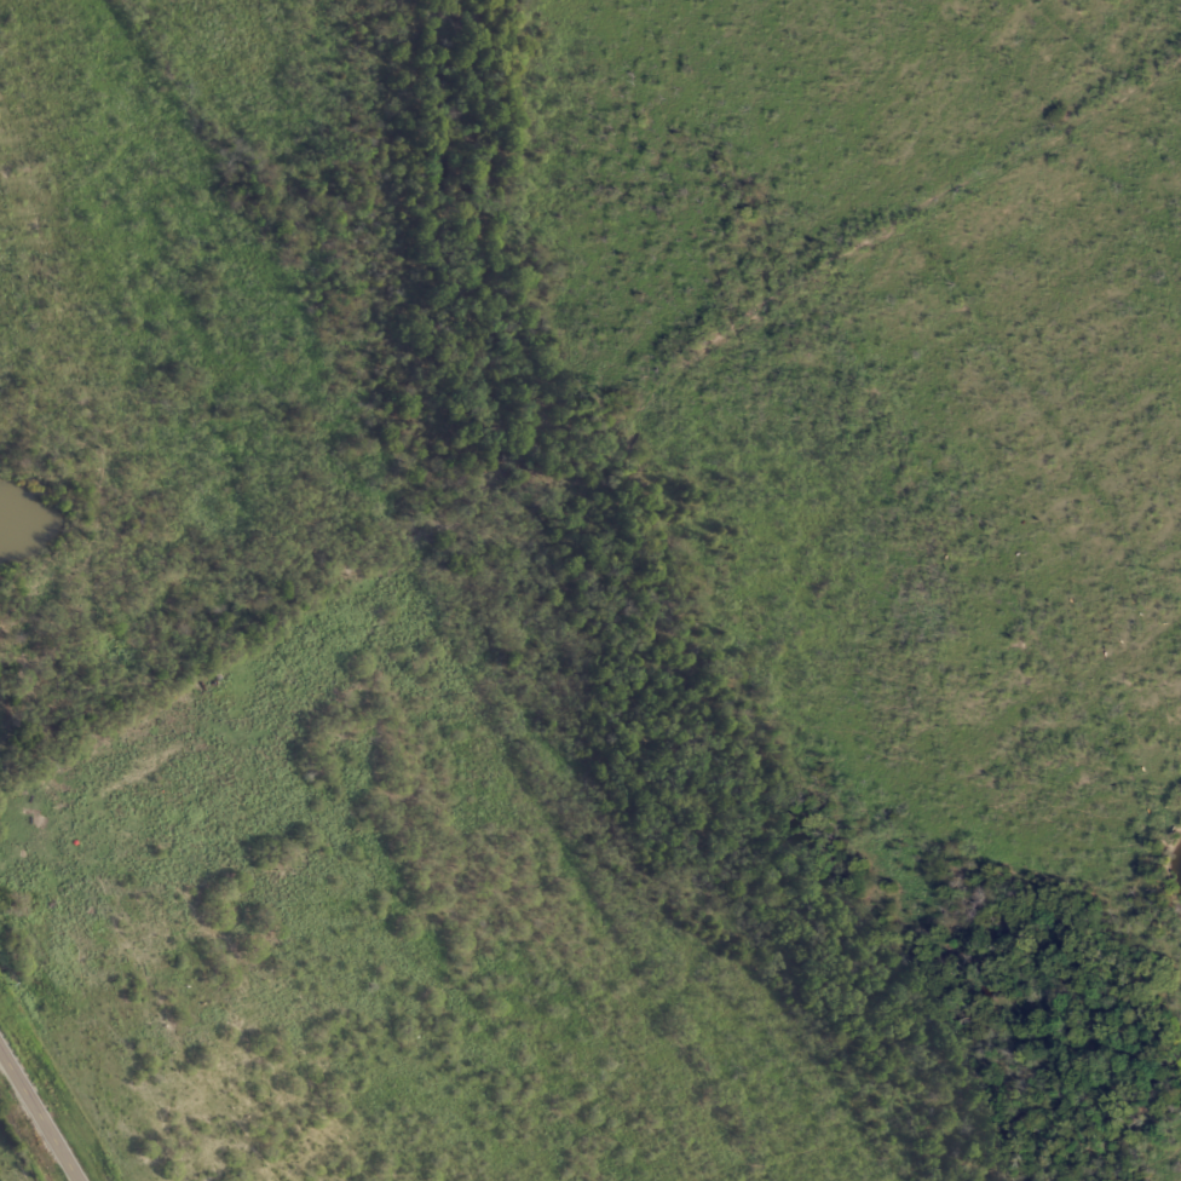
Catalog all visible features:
road: (40, 1113)

